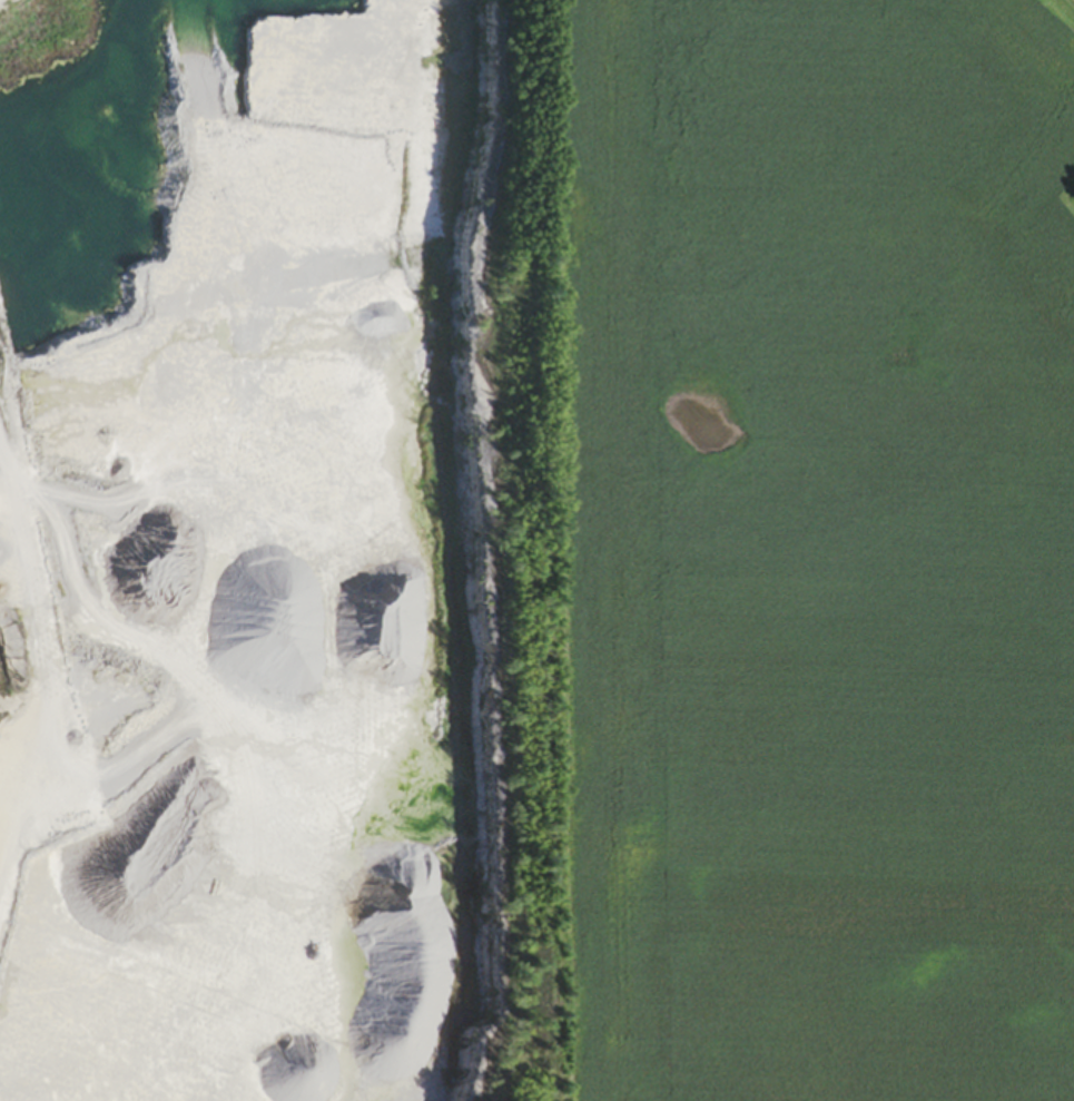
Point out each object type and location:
quarry: (297, 549)

